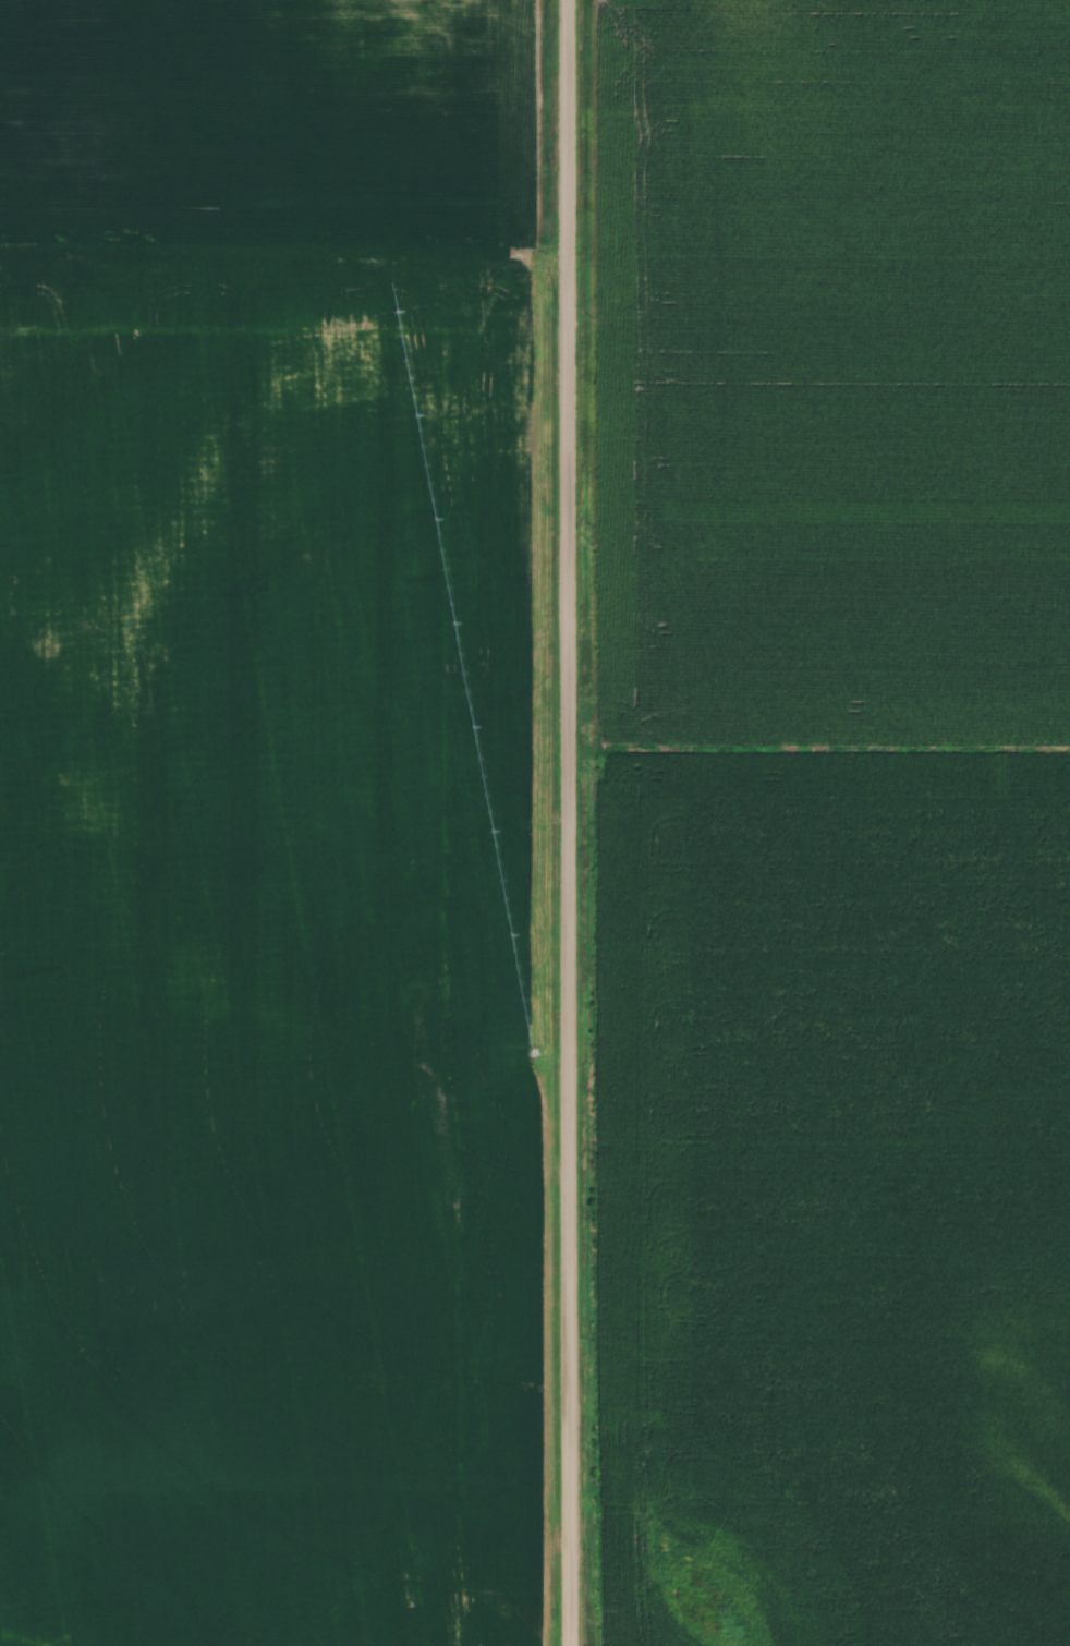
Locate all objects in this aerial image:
road: (563, 823)

